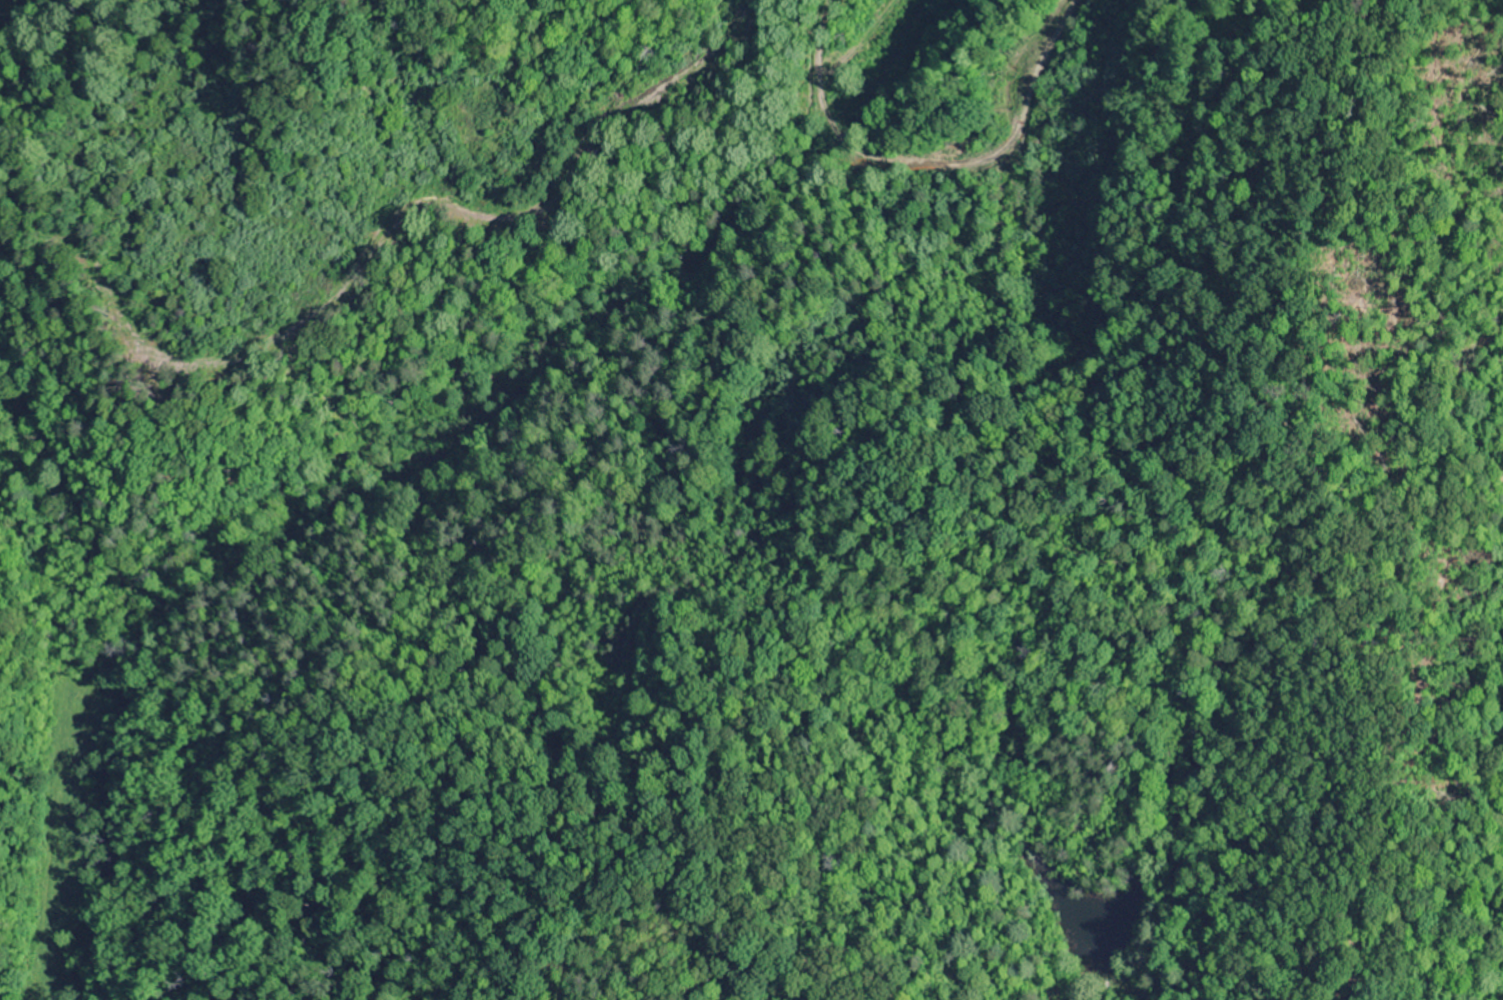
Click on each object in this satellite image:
road: (419, 448)
road: (51, 532)

